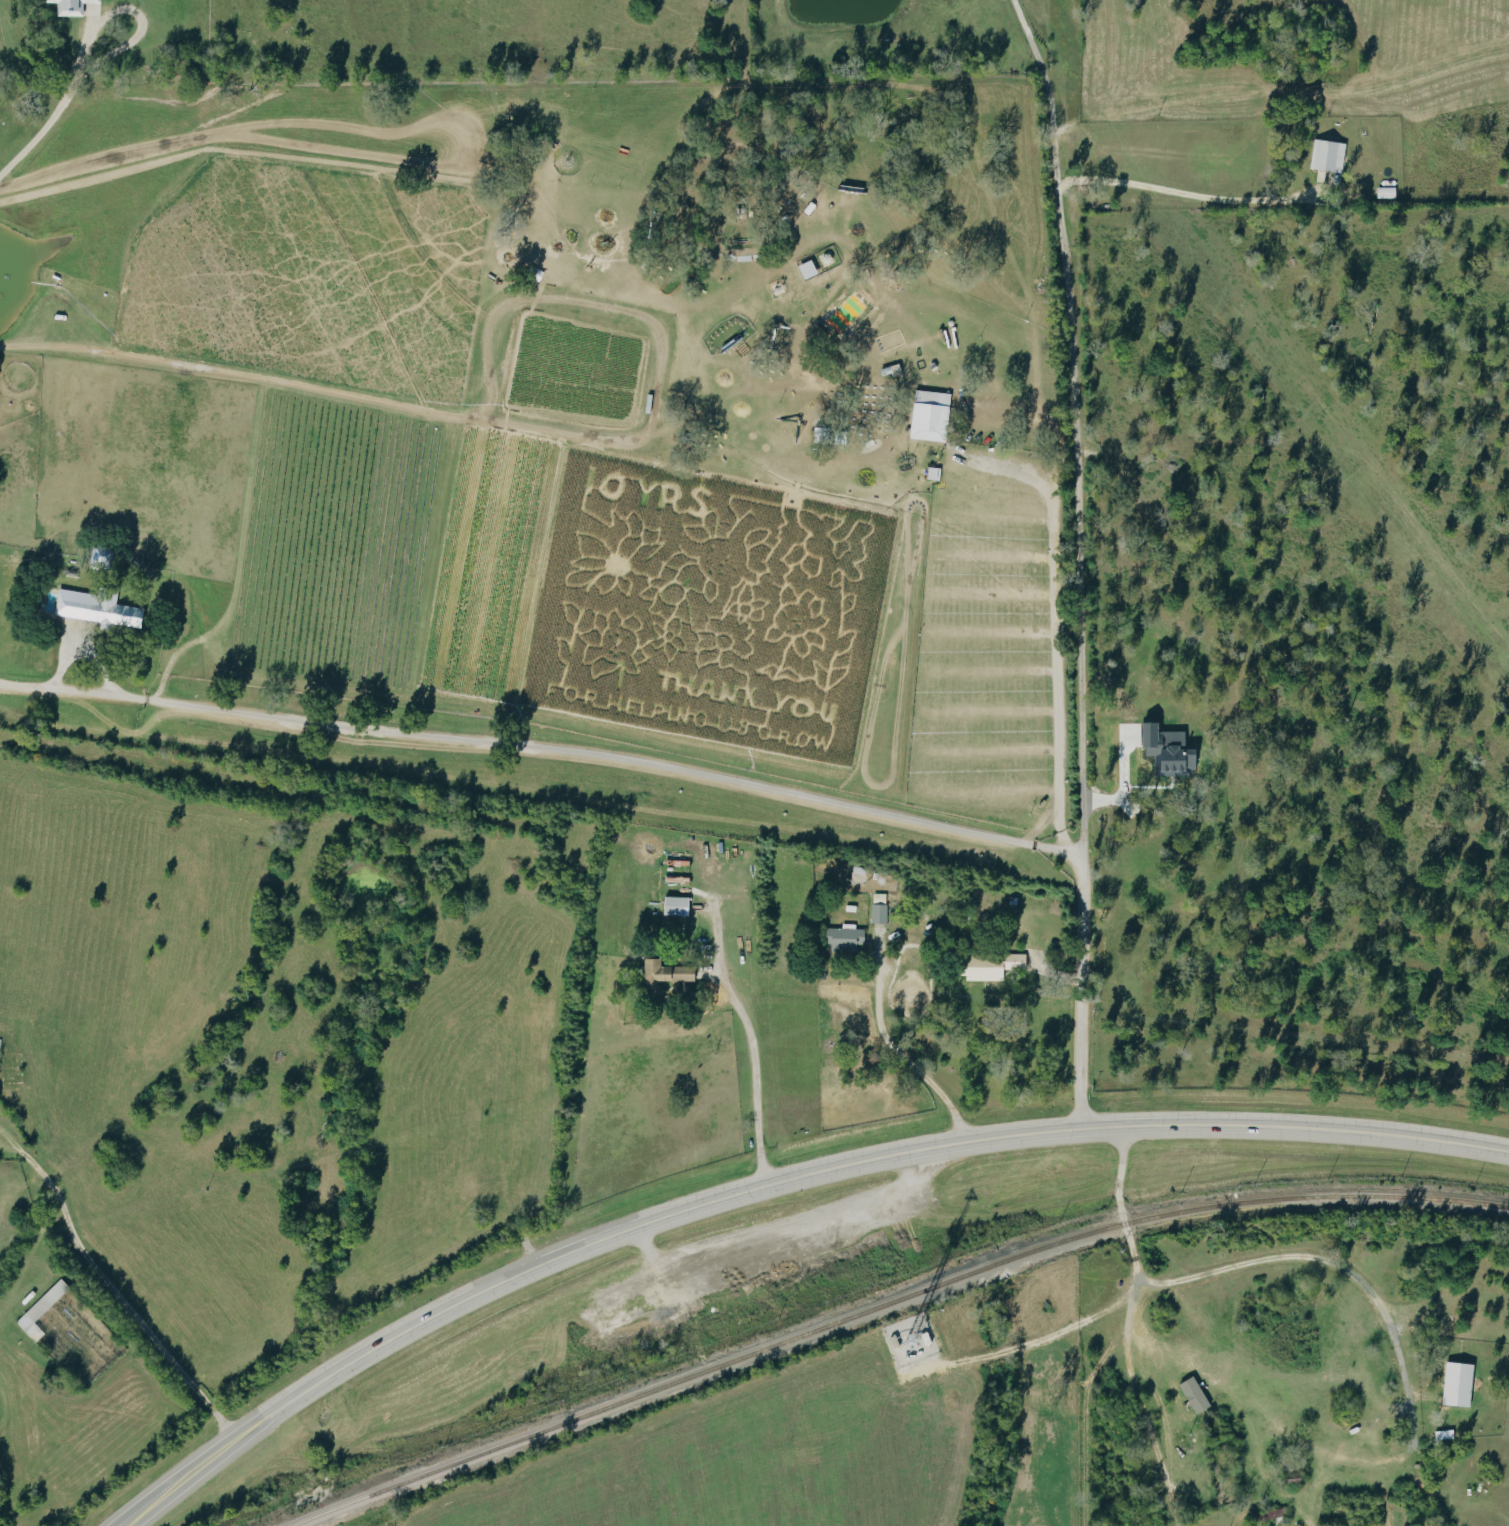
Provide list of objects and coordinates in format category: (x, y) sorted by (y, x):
building: (72, 6)
building: (93, 8)
road: (1042, 67)
building: (1330, 154)
road: (1187, 198)
building: (809, 268)
building: (931, 414)
road: (1014, 473)
building: (99, 607)
road: (1085, 634)
road: (1063, 679)
building: (1171, 750)
road: (548, 752)
road: (1045, 826)
building: (678, 905)
building: (880, 913)
building: (847, 937)
building: (993, 965)
building: (668, 972)
road: (900, 1052)
road: (758, 1075)
road: (773, 1184)
road: (1307, 1259)
road: (123, 1297)
railway: (888, 1305)
building: (42, 1309)
road: (1127, 1331)
building: (1460, 1384)
building: (1197, 1394)

